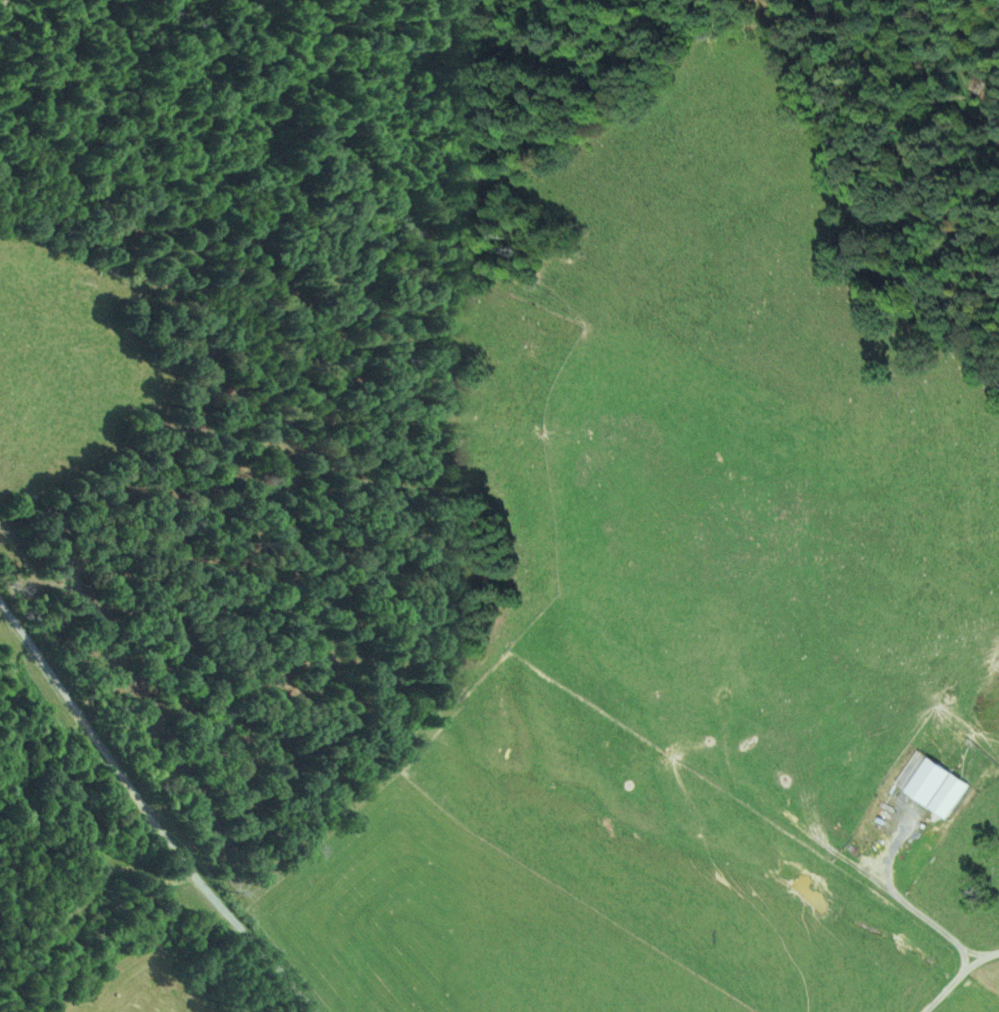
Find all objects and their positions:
building: (937, 789)
road: (147, 854)

